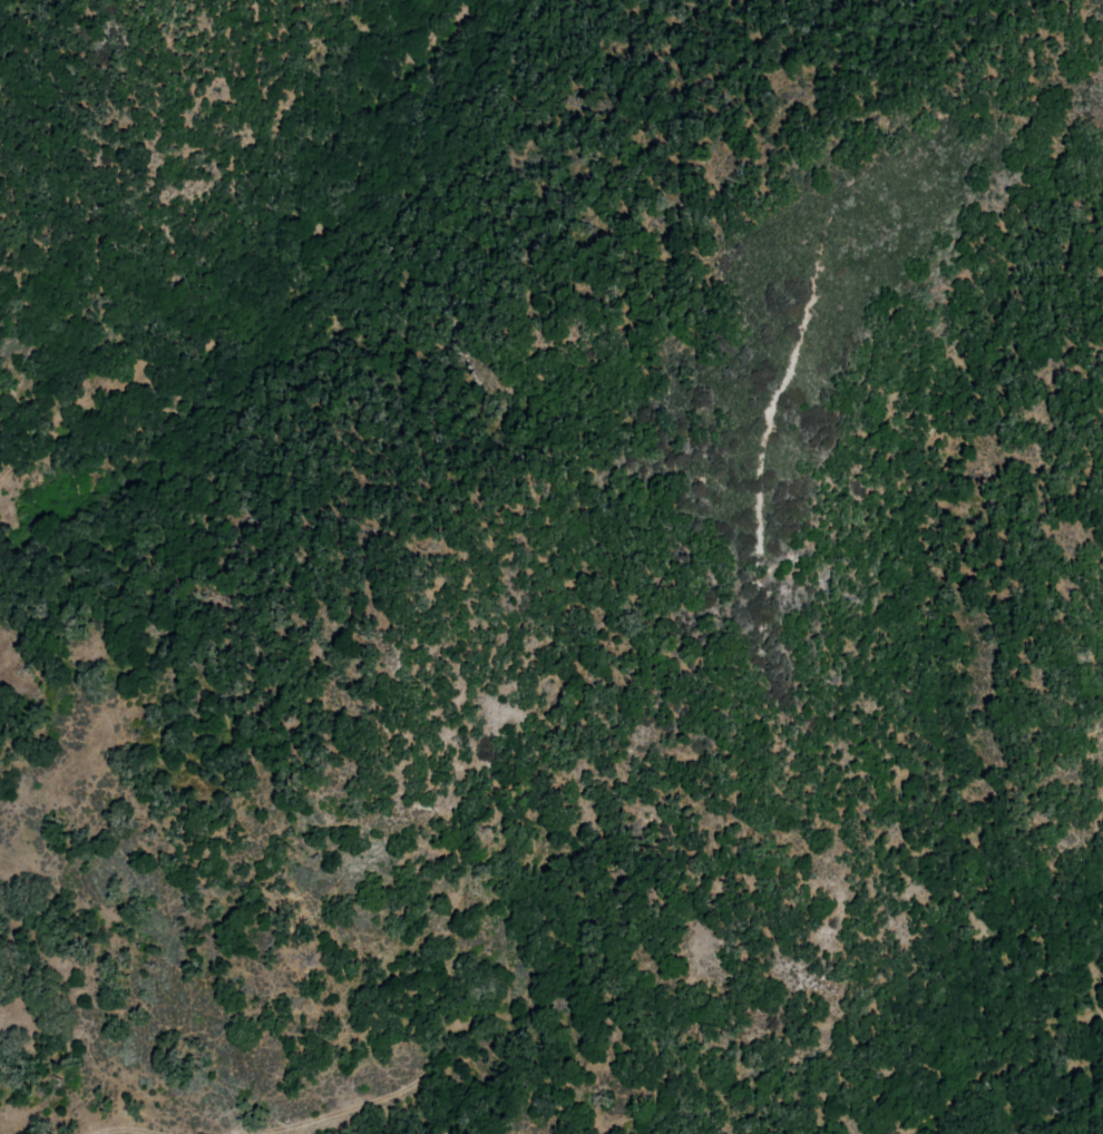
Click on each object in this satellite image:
road: (1000, 1096)
road: (778, 1131)

